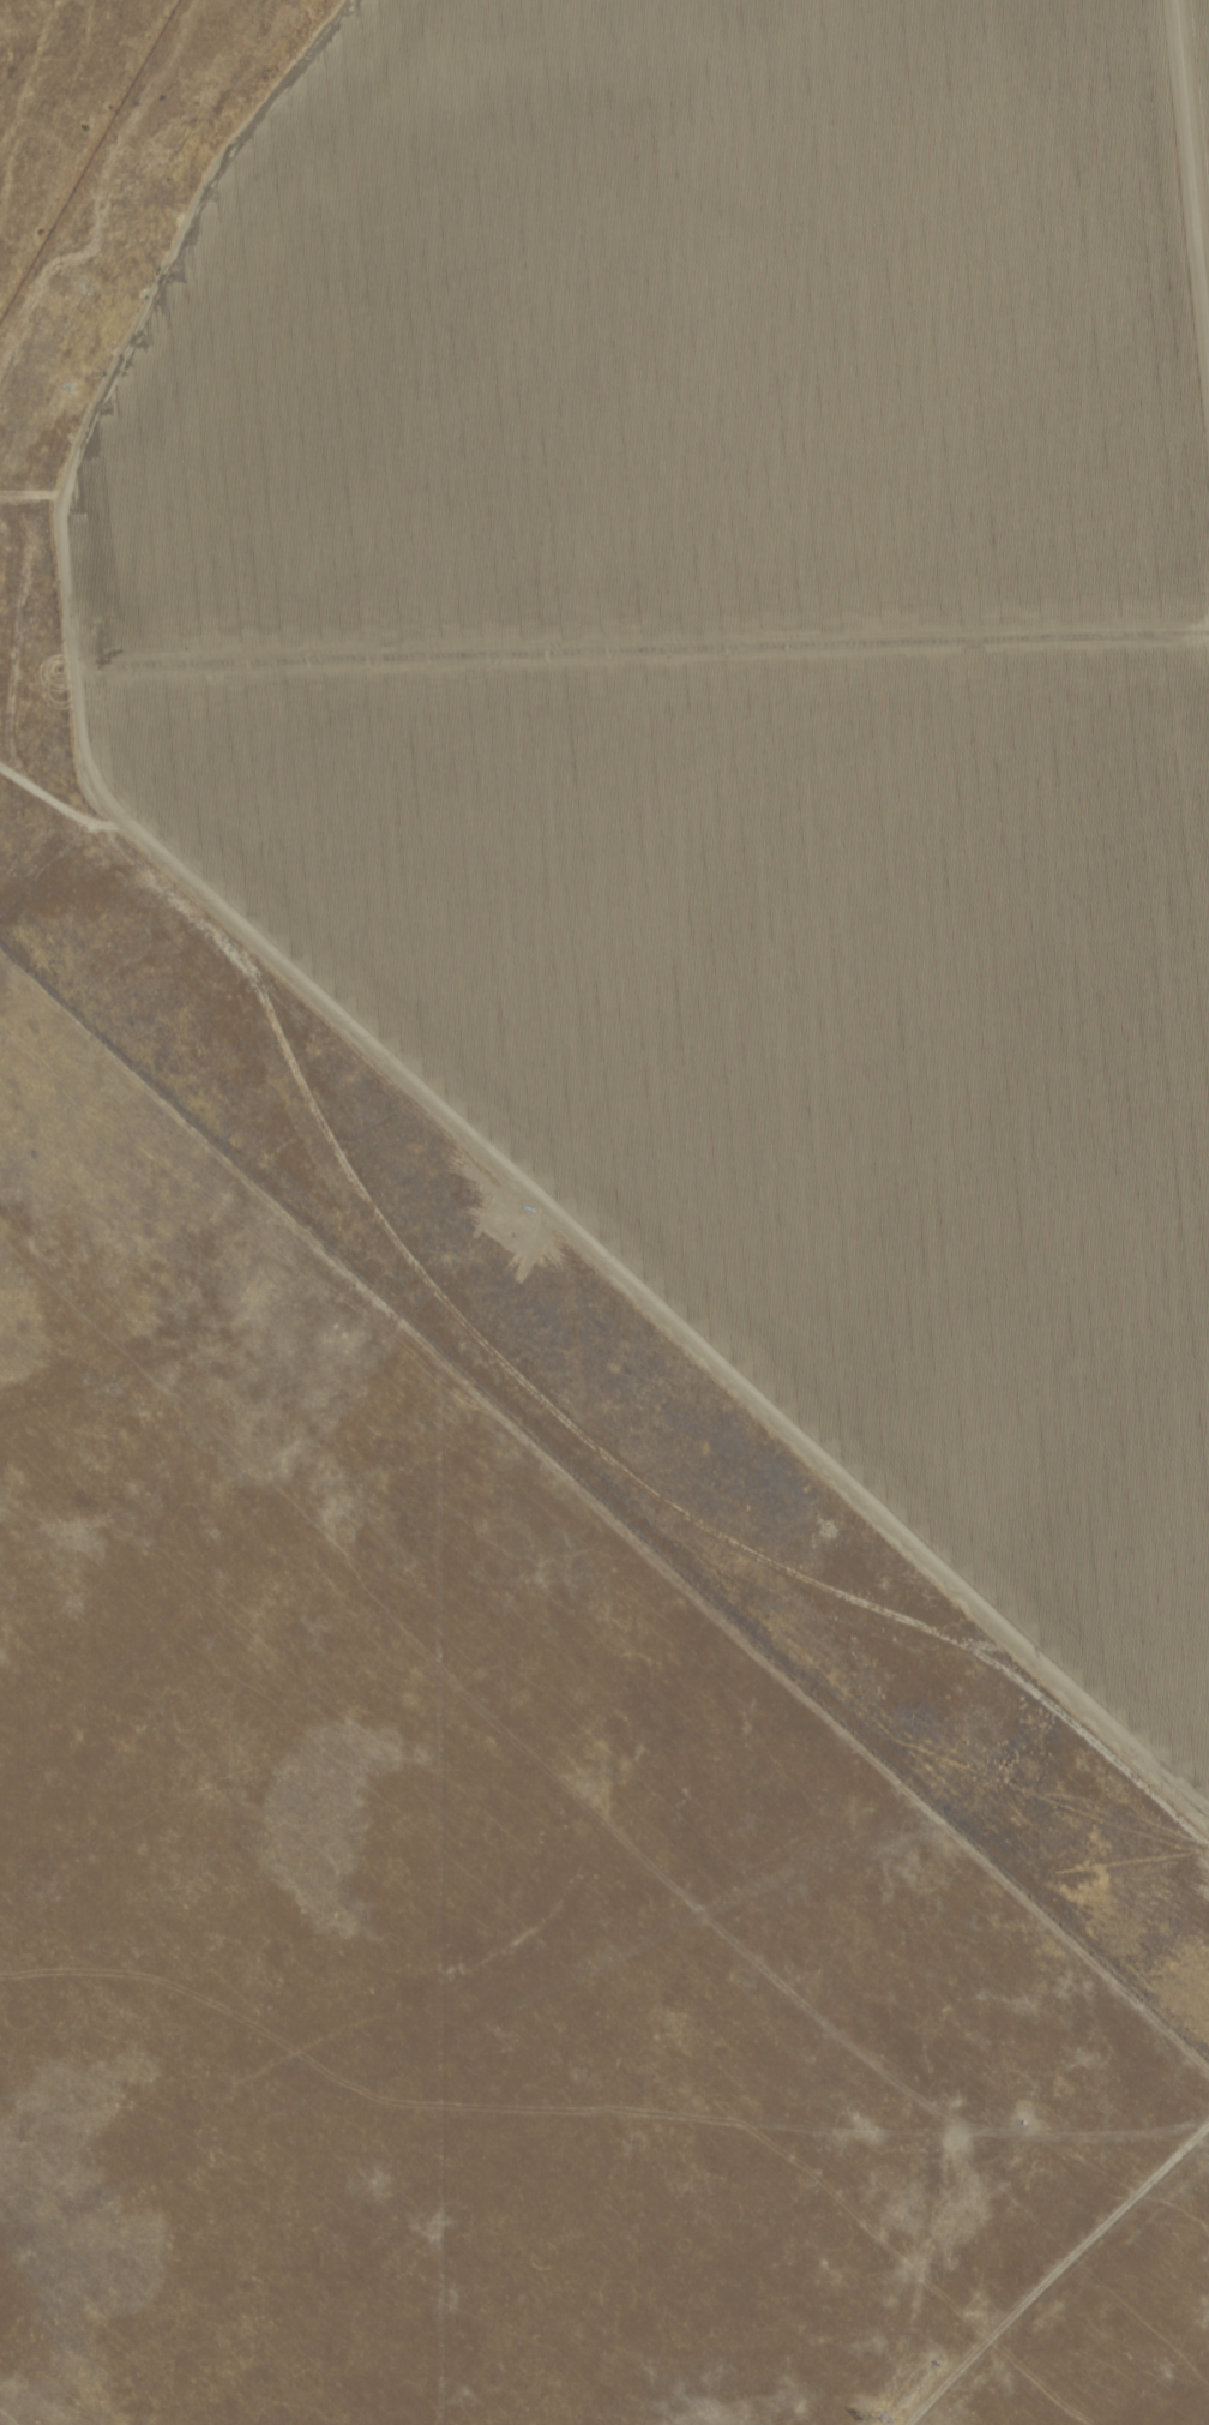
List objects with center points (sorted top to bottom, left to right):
crop: (736, 744)
power tower: (886, 2412)

